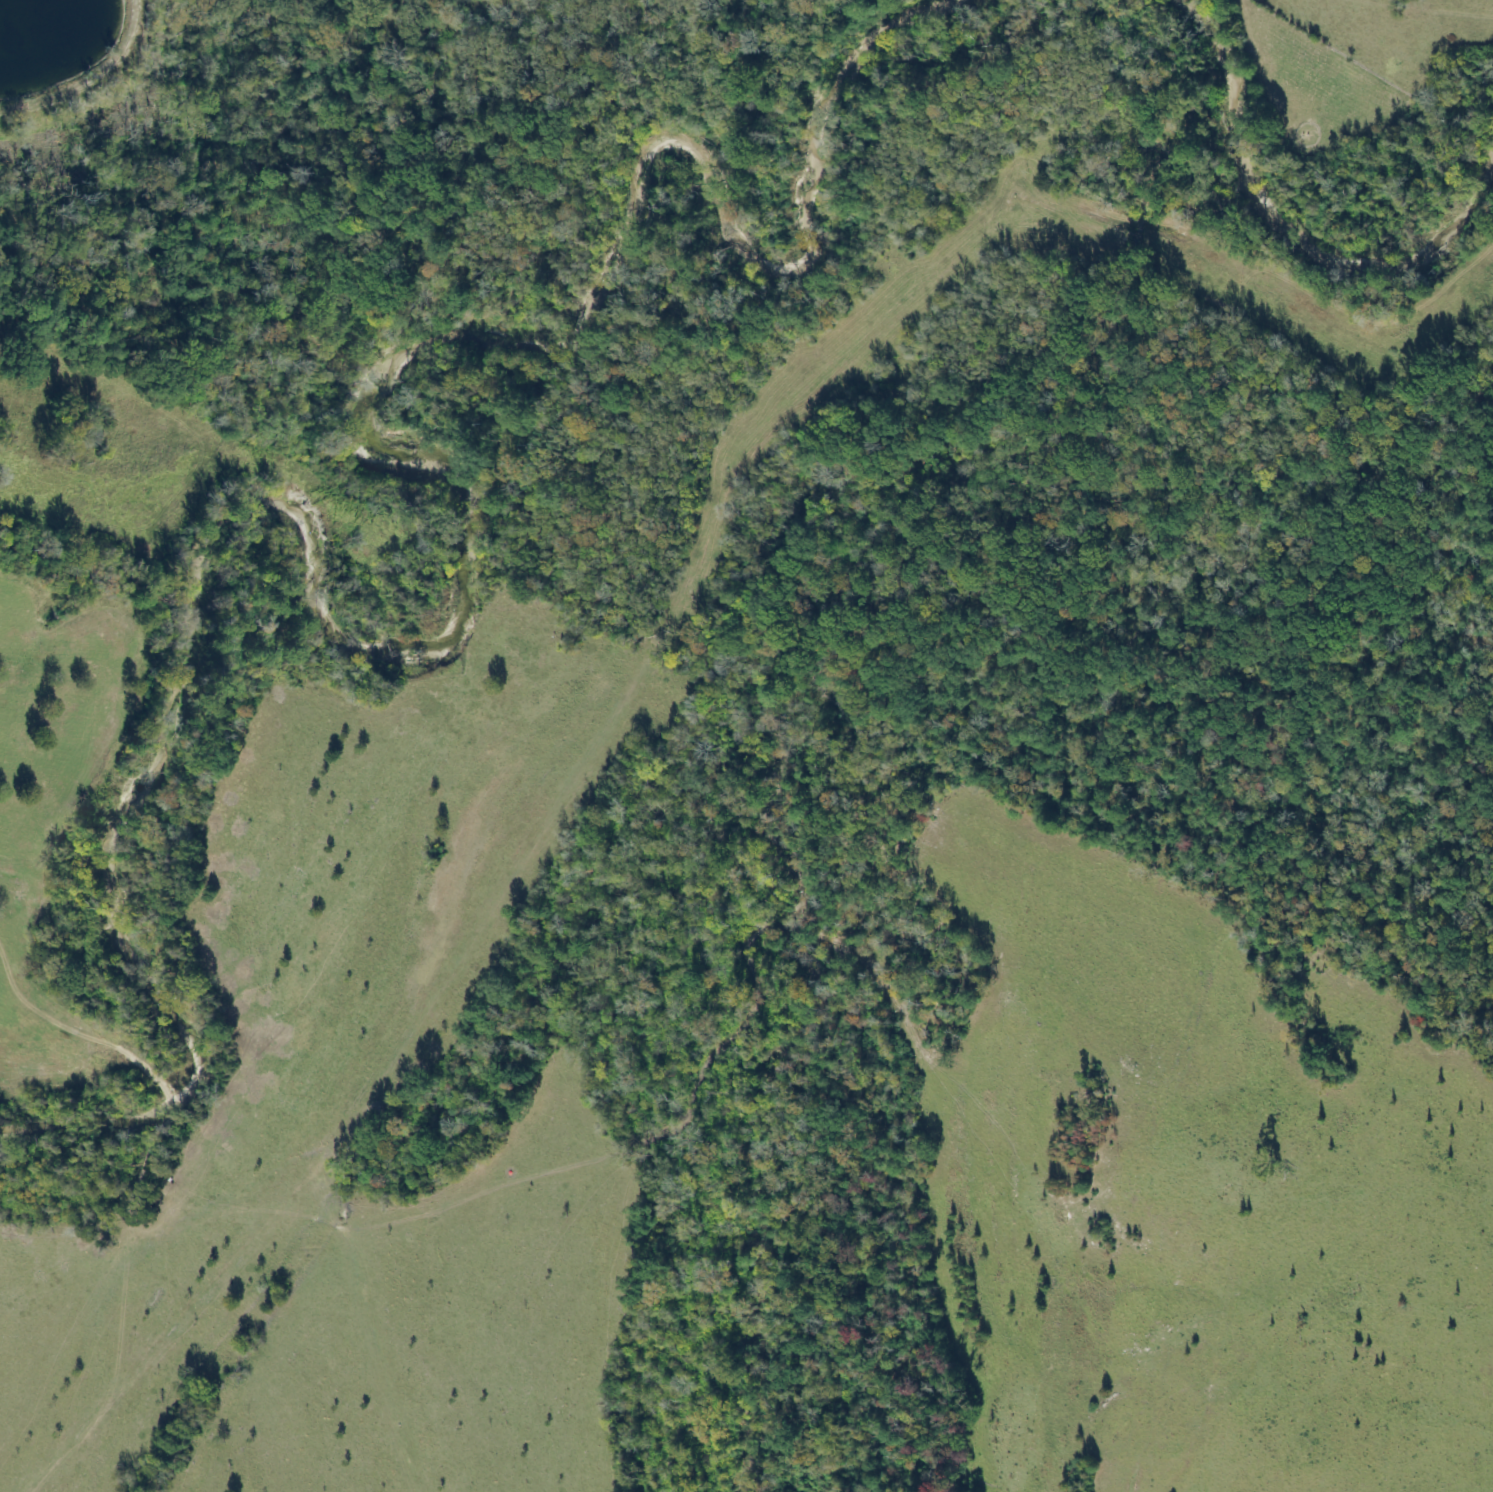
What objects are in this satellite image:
road: (172, 83)
road: (371, 1317)

